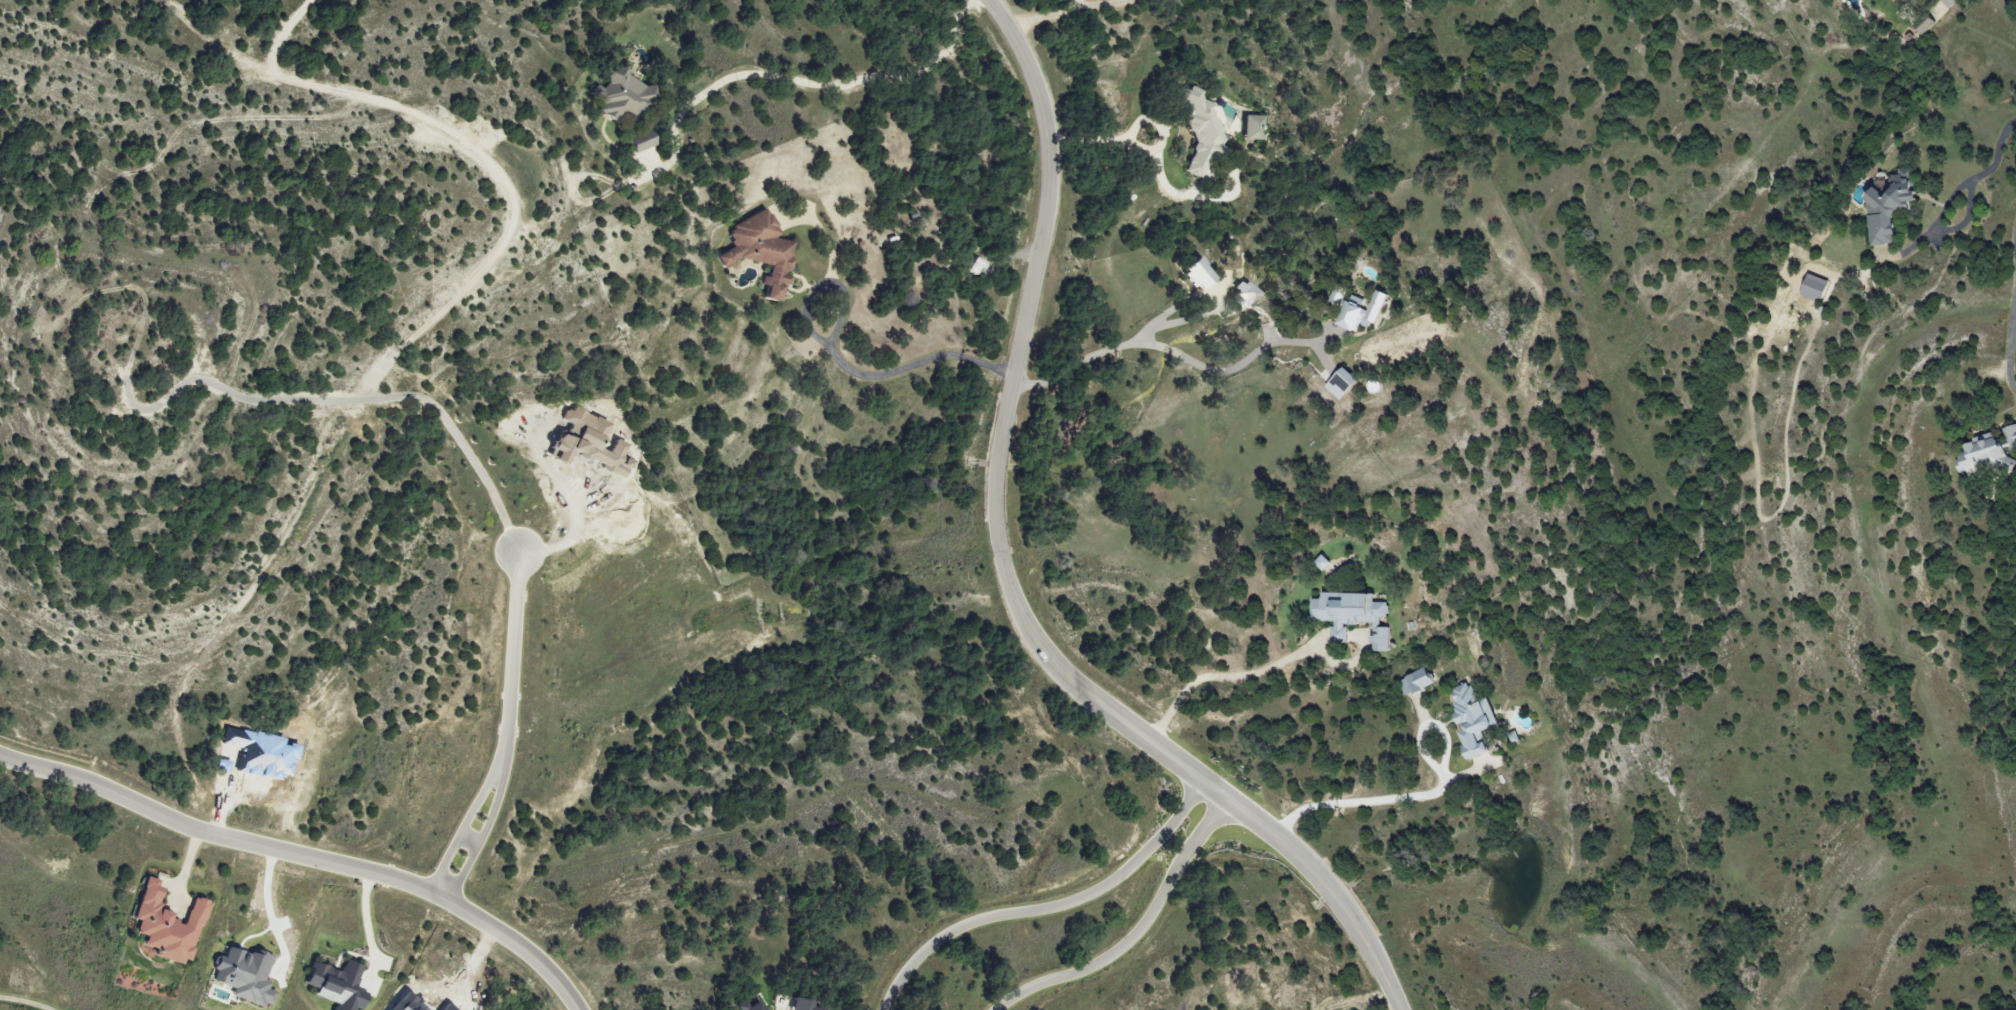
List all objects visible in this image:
road: (1101, 4)
road: (1075, 6)
road: (1040, 19)
road: (810, 84)
building: (619, 96)
building: (1247, 127)
building: (1197, 131)
road: (1093, 139)
building: (637, 144)
road: (1987, 168)
building: (1886, 205)
road: (827, 233)
road: (2014, 233)
building: (757, 250)
building: (976, 266)
building: (1193, 273)
building: (1813, 286)
building: (1243, 293)
building: (1337, 294)
building: (1360, 312)
road: (1181, 321)
road: (2009, 338)
road: (1177, 353)
road: (844, 360)
building: (1340, 383)
building: (2010, 436)
building: (1982, 455)
road: (1004, 576)
building: (1351, 616)
road: (1224, 678)
building: (1415, 682)
building: (1471, 718)
road: (507, 719)
road: (1364, 801)
road: (1224, 818)
road: (308, 851)
road: (186, 868)
road: (267, 909)
road: (1048, 910)
road: (368, 918)
building: (164, 925)
road: (1136, 933)
building: (242, 976)
building: (335, 985)
road: (23, 1003)
building: (804, 1005)

